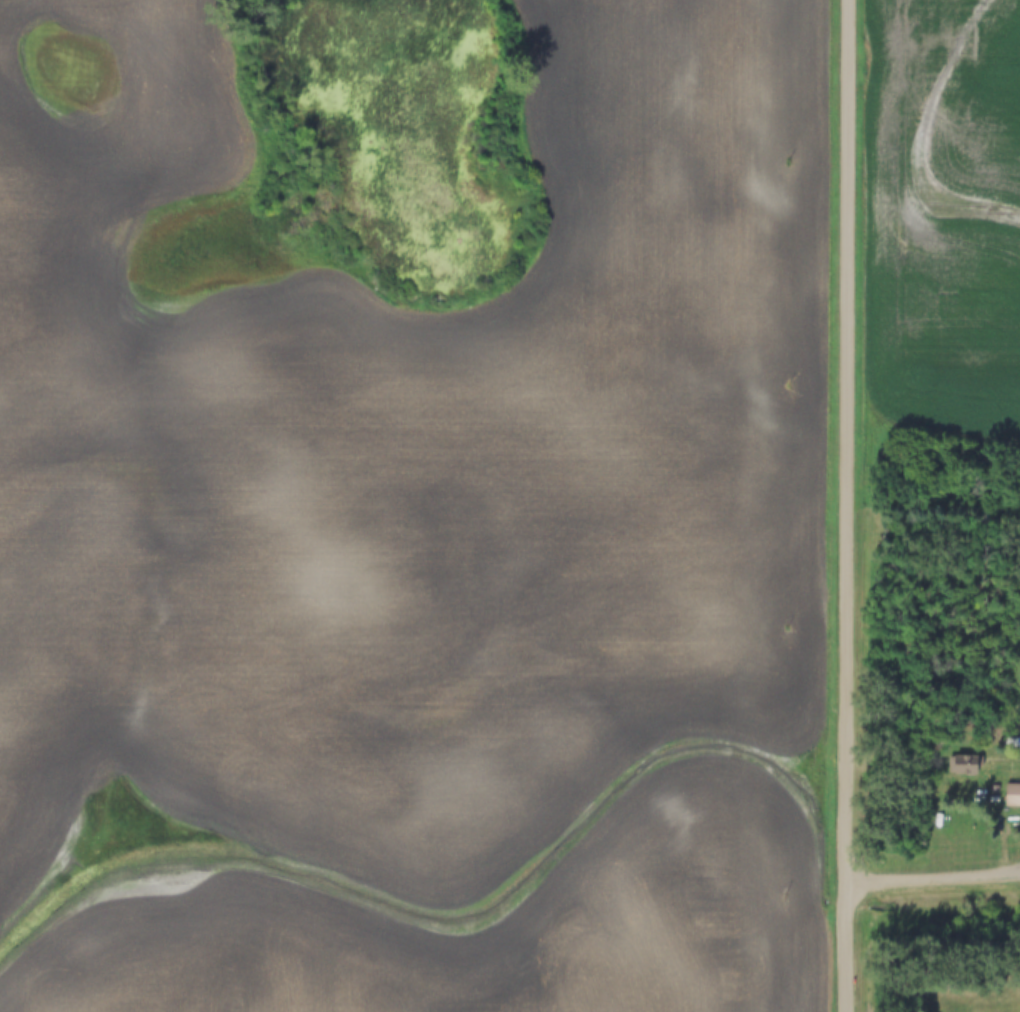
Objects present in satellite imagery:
road: (849, 506)
building: (966, 765)
building: (1012, 795)
road: (934, 878)

